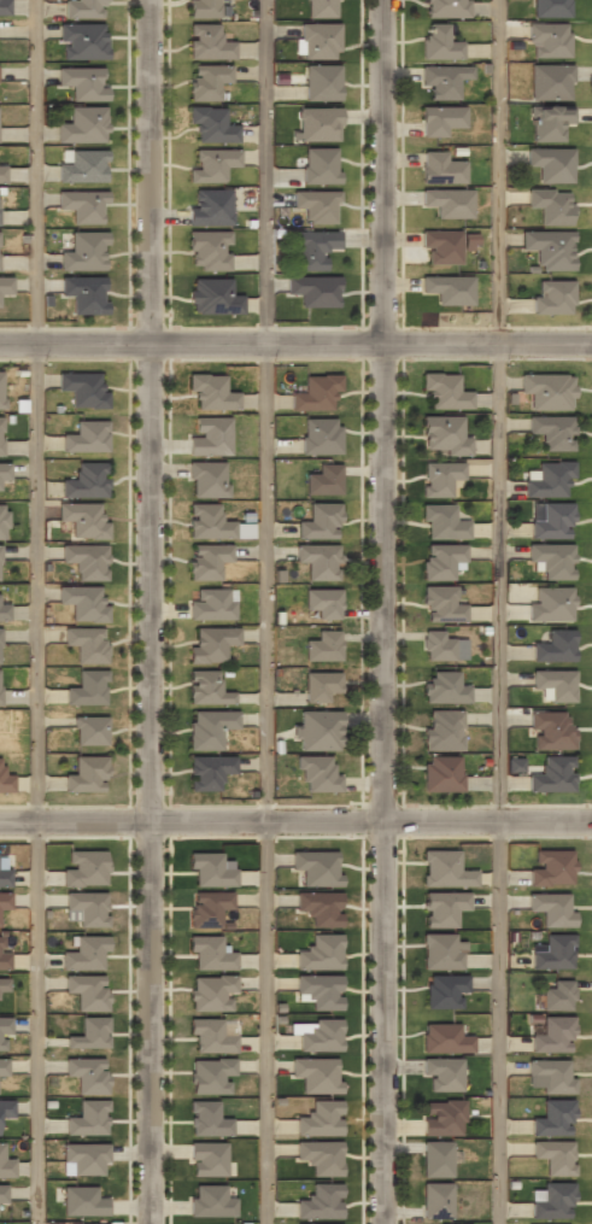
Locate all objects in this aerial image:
building: (4, 7)
building: (549, 7)
building: (83, 8)
building: (203, 8)
building: (321, 8)
building: (446, 8)
building: (547, 39)
building: (82, 40)
building: (318, 41)
building: (207, 42)
building: (438, 42)
building: (442, 78)
building: (82, 81)
building: (206, 81)
building: (549, 81)
building: (321, 82)
building: (440, 118)
building: (546, 121)
building: (83, 123)
building: (317, 123)
building: (211, 125)
building: (550, 163)
building: (320, 164)
building: (82, 165)
building: (212, 165)
building: (440, 169)
building: (2, 172)
building: (449, 201)
building: (316, 204)
building: (82, 205)
building: (547, 205)
building: (210, 206)
building: (469, 241)
building: (441, 245)
building: (312, 247)
building: (550, 247)
building: (83, 250)
building: (209, 250)
building: (5, 286)
building: (313, 289)
building: (449, 289)
building: (83, 292)
building: (212, 295)
building: (553, 295)
road: (295, 344)
building: (82, 387)
building: (0, 390)
building: (546, 390)
building: (210, 391)
building: (444, 391)
building: (315, 393)
building: (552, 431)
building: (0, 434)
building: (210, 434)
building: (86, 435)
building: (320, 435)
building: (444, 435)
building: (4, 472)
building: (207, 478)
building: (439, 478)
building: (547, 478)
building: (86, 479)
building: (323, 479)
building: (83, 517)
building: (2, 520)
building: (320, 520)
building: (444, 521)
building: (551, 521)
building: (215, 523)
building: (0, 547)
building: (440, 558)
building: (86, 560)
building: (206, 560)
building: (318, 560)
building: (552, 560)
building: (82, 601)
building: (323, 601)
building: (212, 604)
building: (441, 604)
building: (551, 604)
building: (4, 610)
road: (37, 611)
road: (159, 611)
road: (265, 611)
road: (386, 611)
road: (498, 611)
building: (87, 643)
building: (211, 643)
building: (436, 644)
building: (323, 645)
building: (553, 645)
building: (0, 661)
building: (553, 683)
building: (321, 685)
building: (442, 686)
building: (87, 687)
building: (205, 687)
building: (0, 703)
building: (209, 727)
building: (442, 728)
building: (89, 730)
building: (317, 730)
building: (550, 730)
building: (209, 772)
building: (441, 773)
building: (86, 774)
building: (316, 774)
building: (552, 774)
building: (5, 781)
road: (295, 825)
building: (317, 866)
building: (551, 866)
building: (84, 867)
building: (444, 868)
building: (209, 871)
building: (4, 878)
building: (4, 901)
building: (320, 907)
building: (442, 907)
building: (551, 907)
building: (86, 908)
building: (207, 908)
building: (320, 950)
building: (442, 950)
building: (553, 950)
building: (86, 951)
building: (210, 953)
building: (4, 957)
building: (4, 984)
building: (87, 990)
building: (318, 990)
building: (445, 990)
building: (211, 992)
building: (558, 994)
building: (4, 1032)
building: (89, 1032)
building: (552, 1033)
building: (209, 1035)
building: (320, 1035)
building: (444, 1037)
building: (2, 1066)
building: (441, 1072)
building: (87, 1073)
building: (316, 1073)
building: (551, 1073)
building: (211, 1074)
building: (6, 1108)
building: (553, 1115)
building: (88, 1117)
building: (320, 1117)
building: (441, 1117)
building: (207, 1118)
building: (553, 1155)
building: (84, 1156)
building: (320, 1156)
building: (207, 1158)
building: (436, 1158)
building: (5, 1165)
building: (2, 1194)
building: (436, 1199)
building: (82, 1200)
building: (210, 1200)
building: (320, 1200)
building: (553, 1200)
building: (100, 1223)
building: (317, 1223)
building: (340, 1223)

